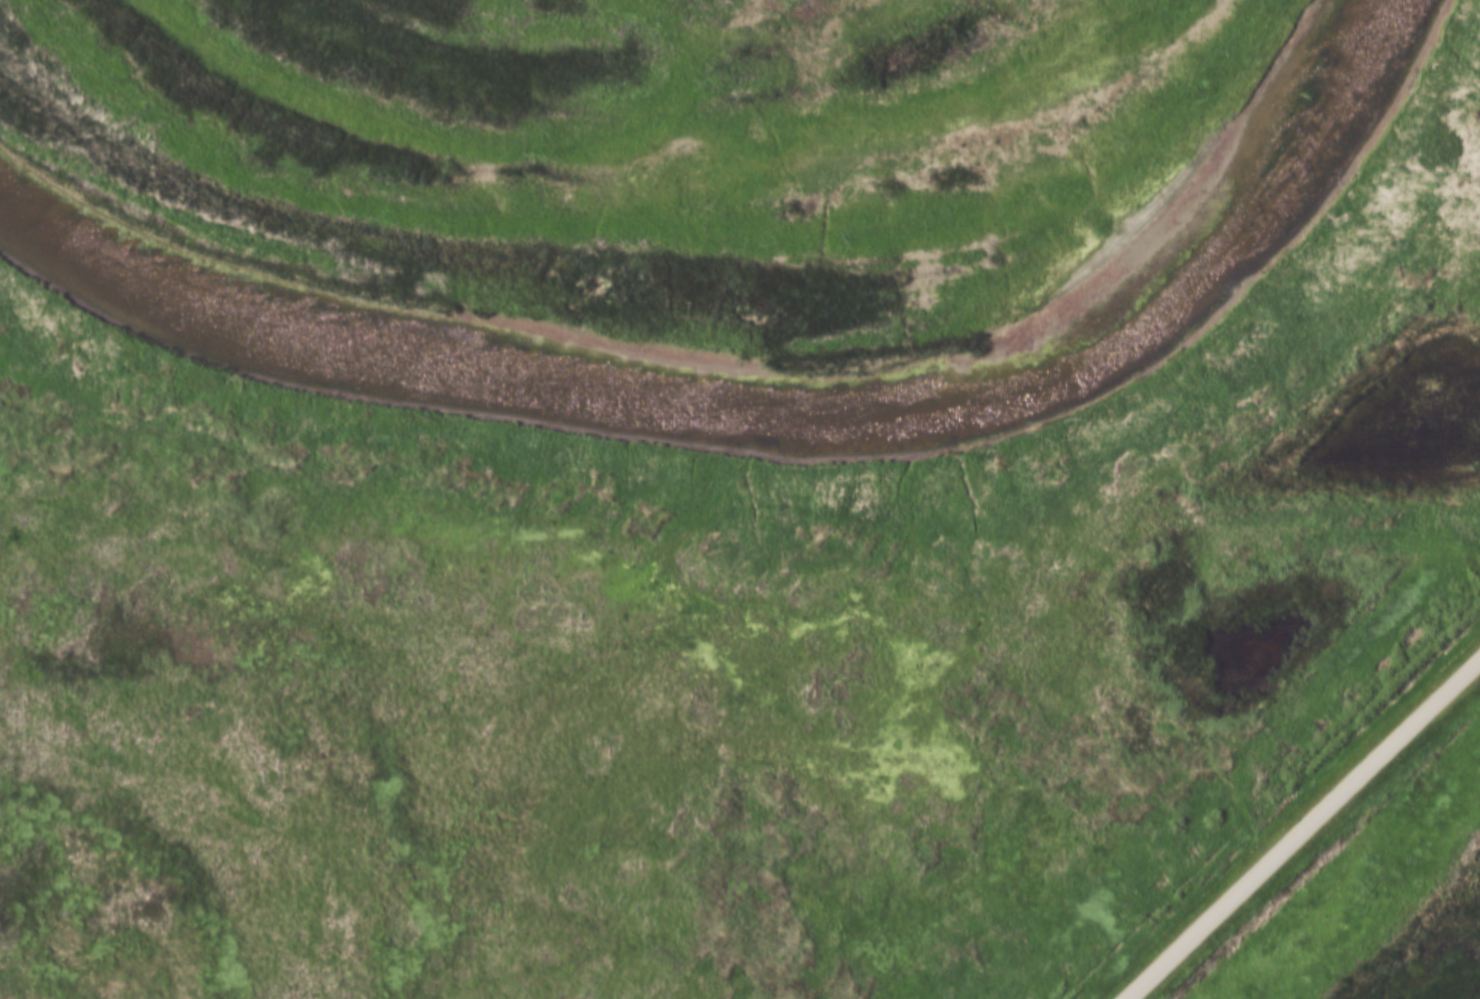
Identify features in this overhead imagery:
river: (739, 387)
road: (1301, 825)

